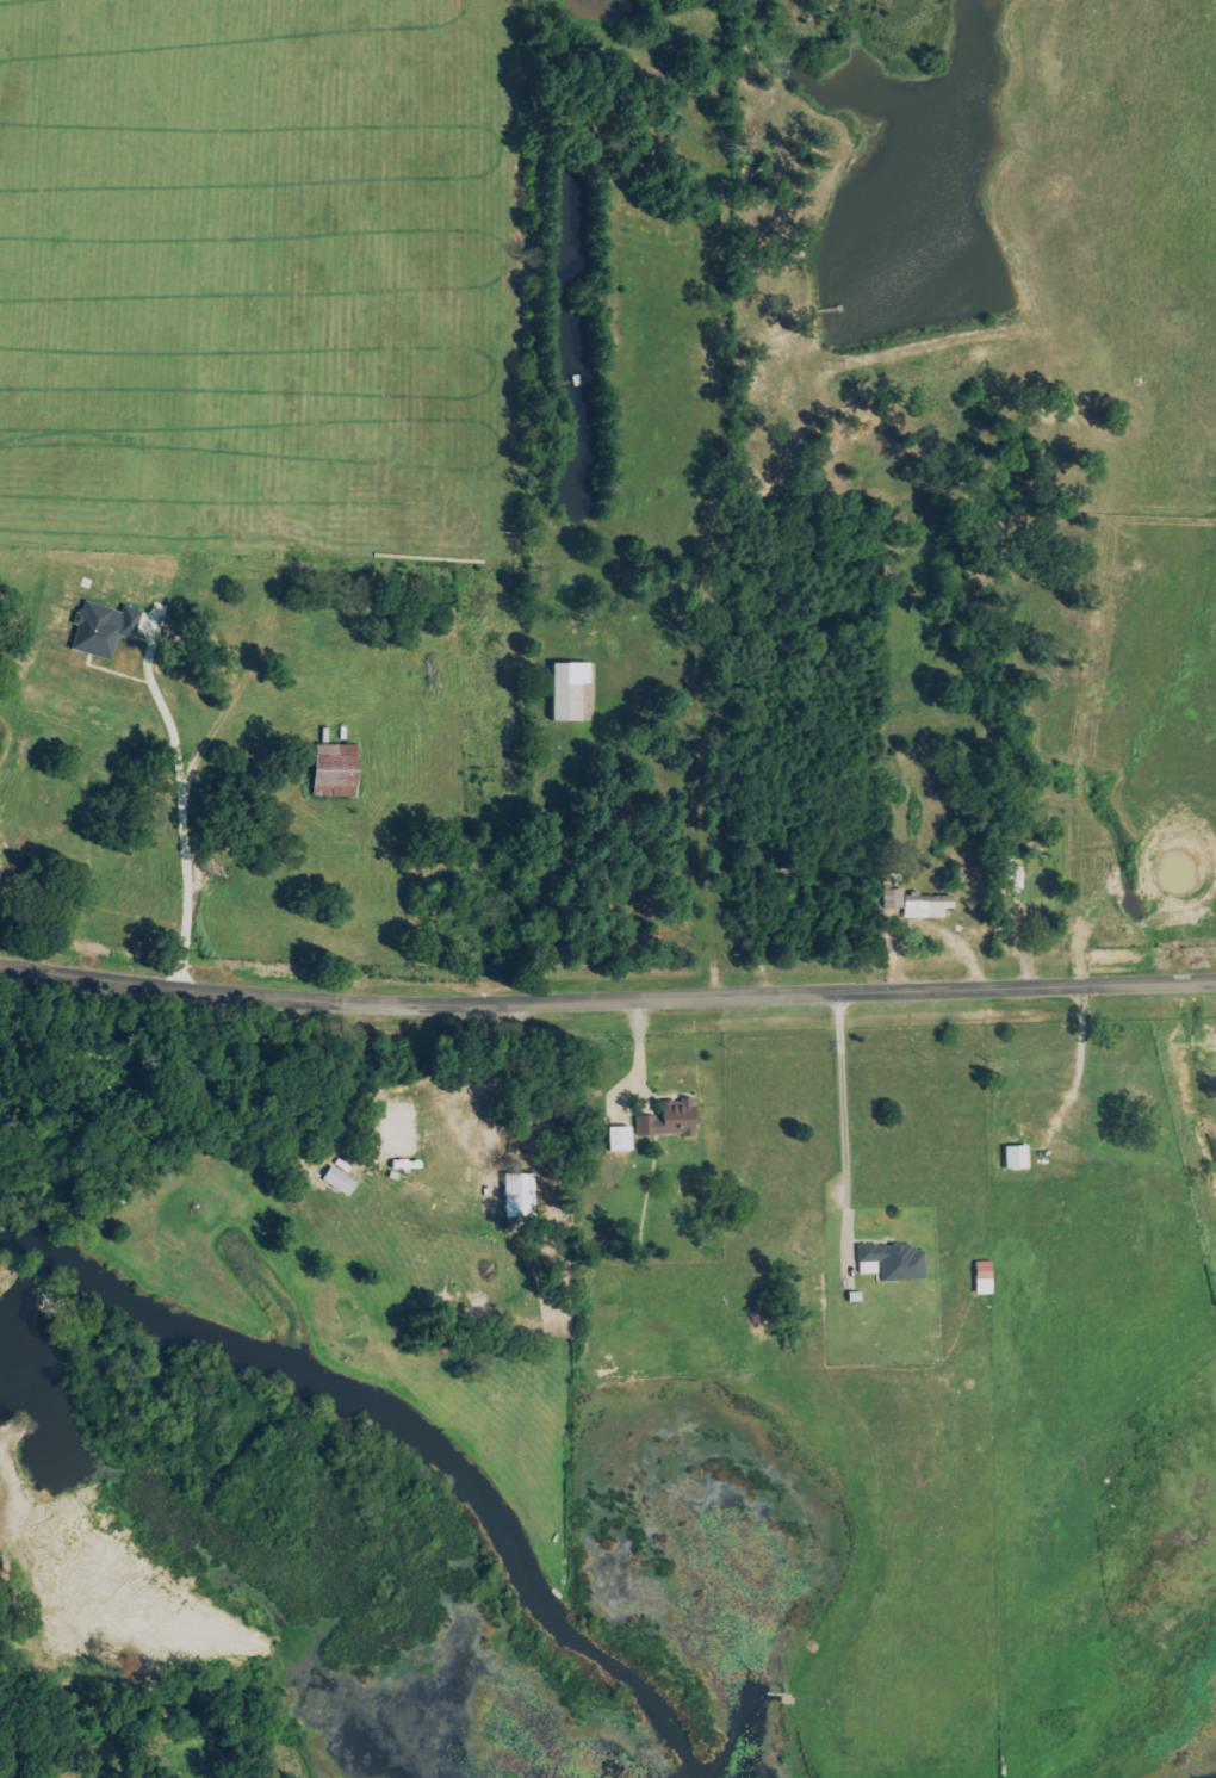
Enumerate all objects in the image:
building: (103, 628)
building: (567, 692)
building: (335, 770)
road: (184, 801)
building: (893, 899)
building: (929, 905)
road: (607, 998)
road: (1077, 1070)
building: (670, 1119)
road: (844, 1129)
building: (620, 1138)
building: (1016, 1157)
road: (509, 1160)
building: (339, 1181)
building: (519, 1194)
building: (892, 1262)
building: (984, 1277)

